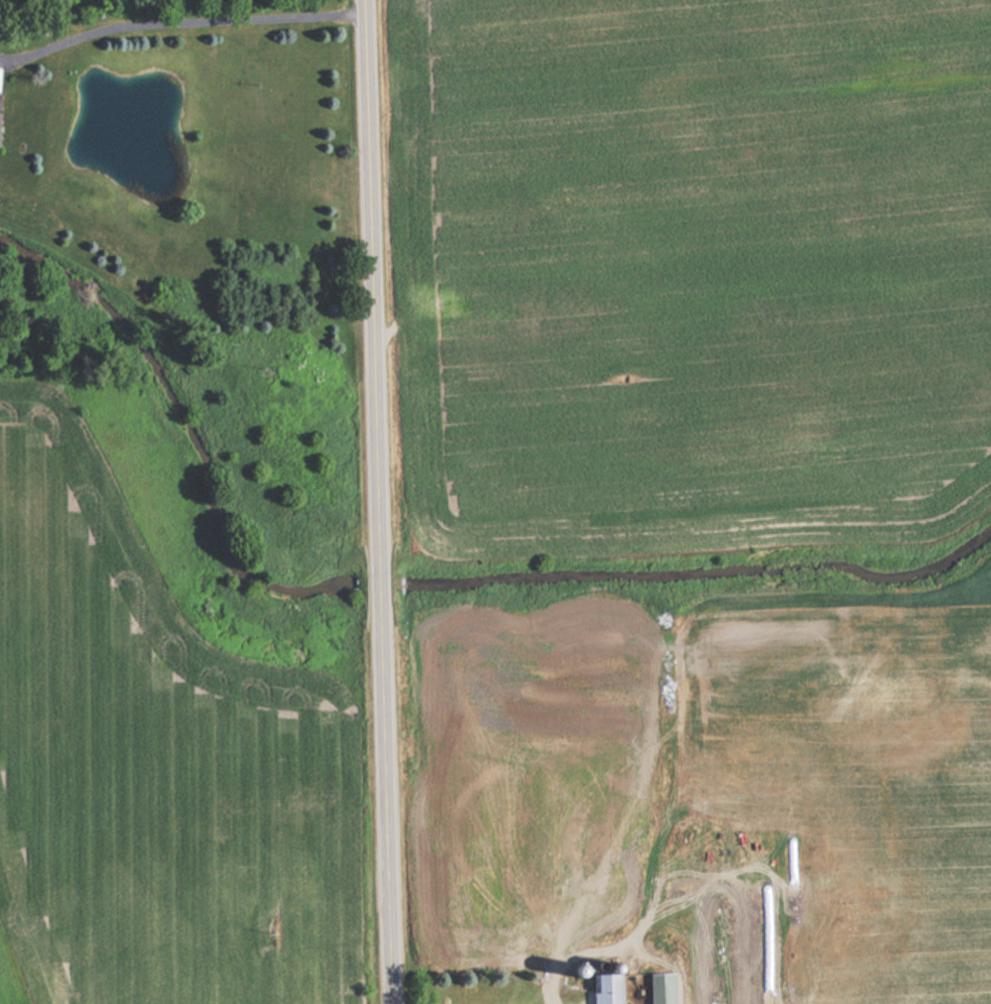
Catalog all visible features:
road: (379, 501)
building: (607, 988)
building: (662, 988)

